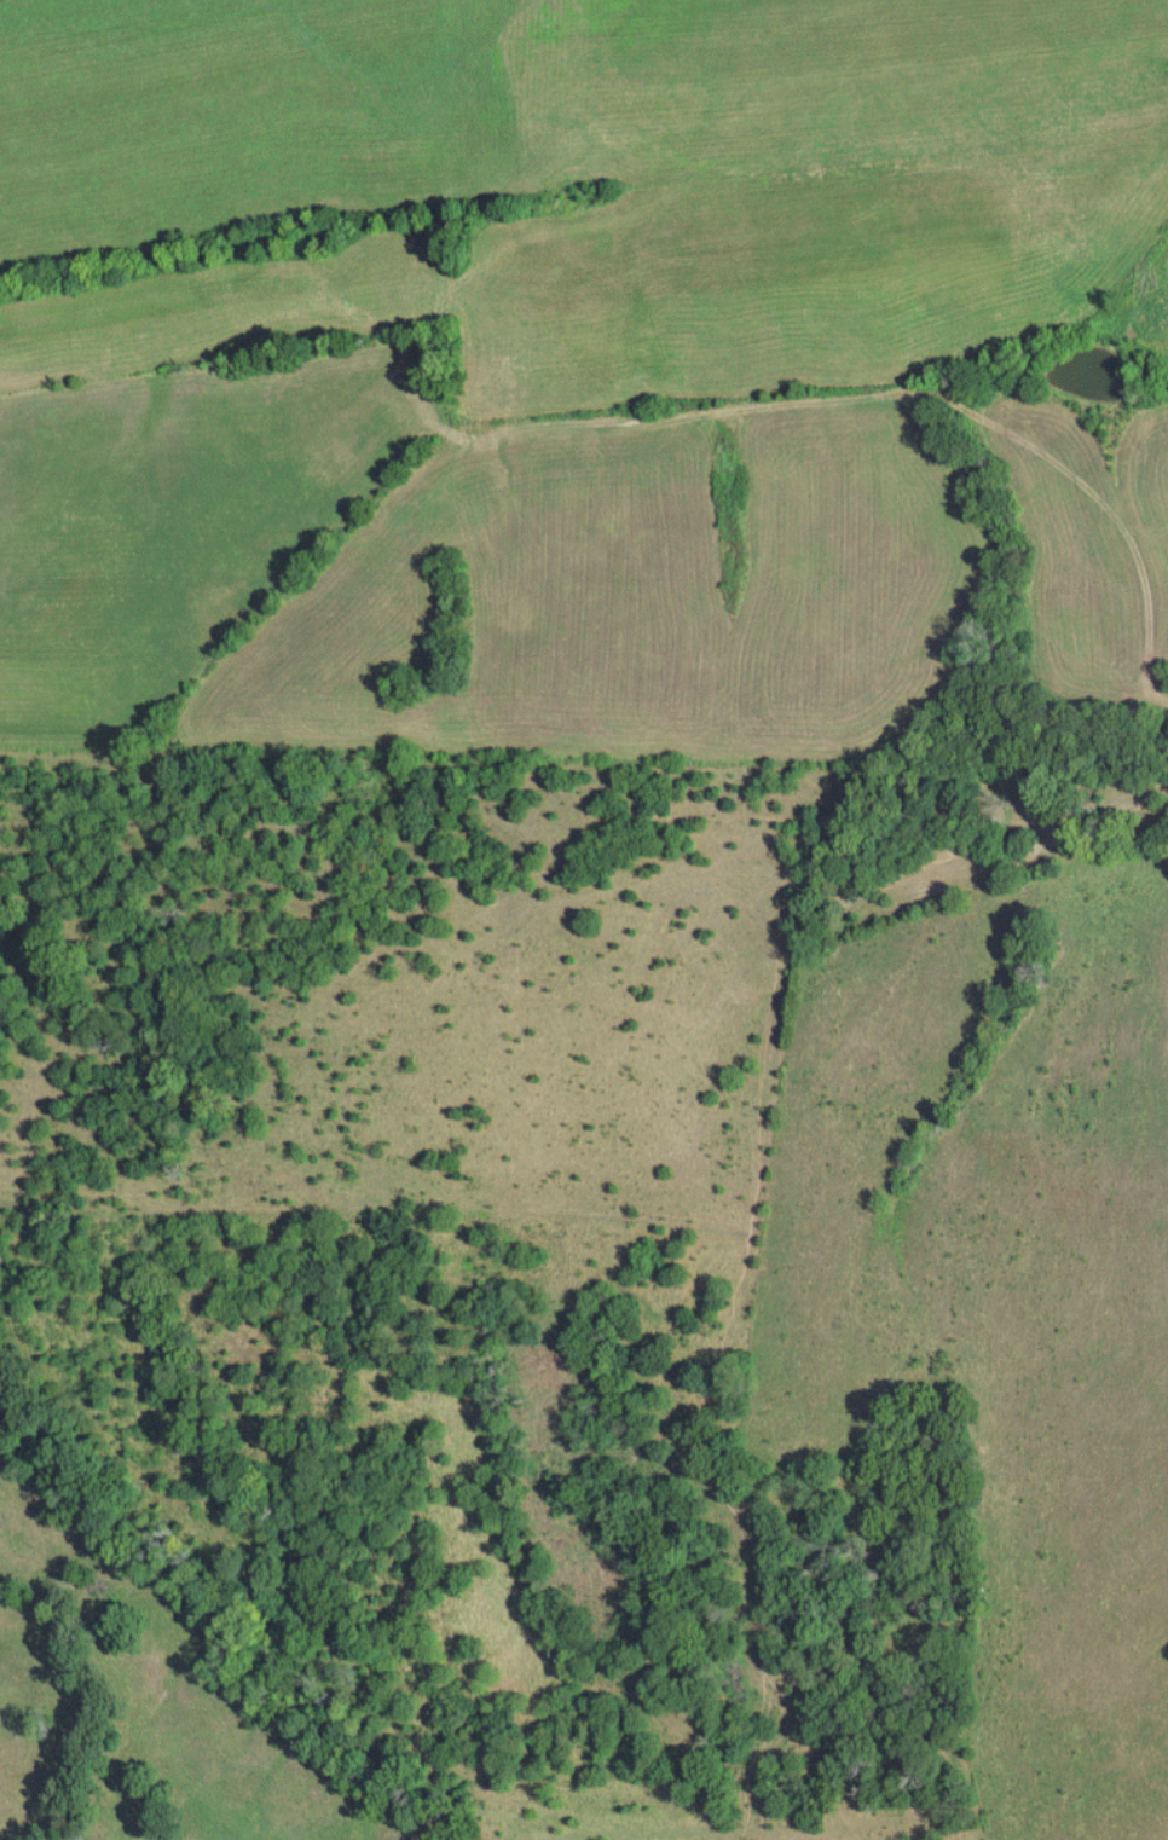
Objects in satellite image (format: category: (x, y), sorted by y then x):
road: (896, 392)

